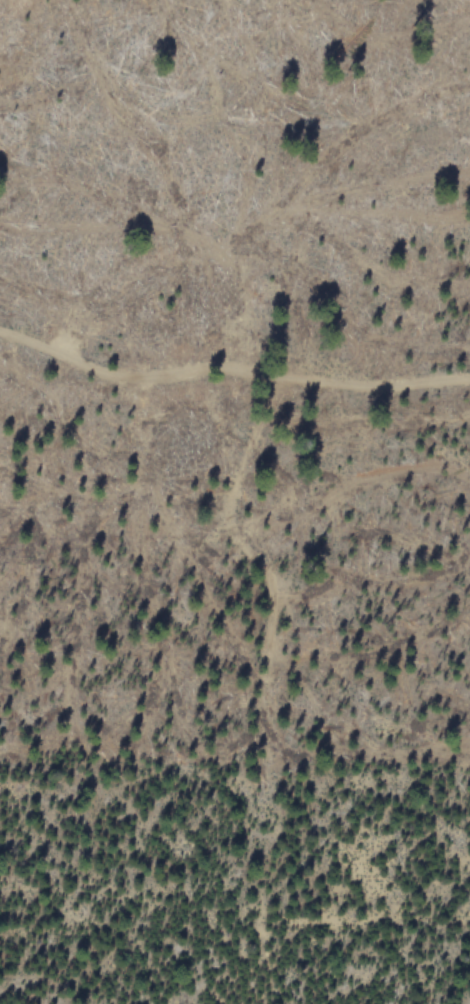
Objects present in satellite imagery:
road: (232, 376)

